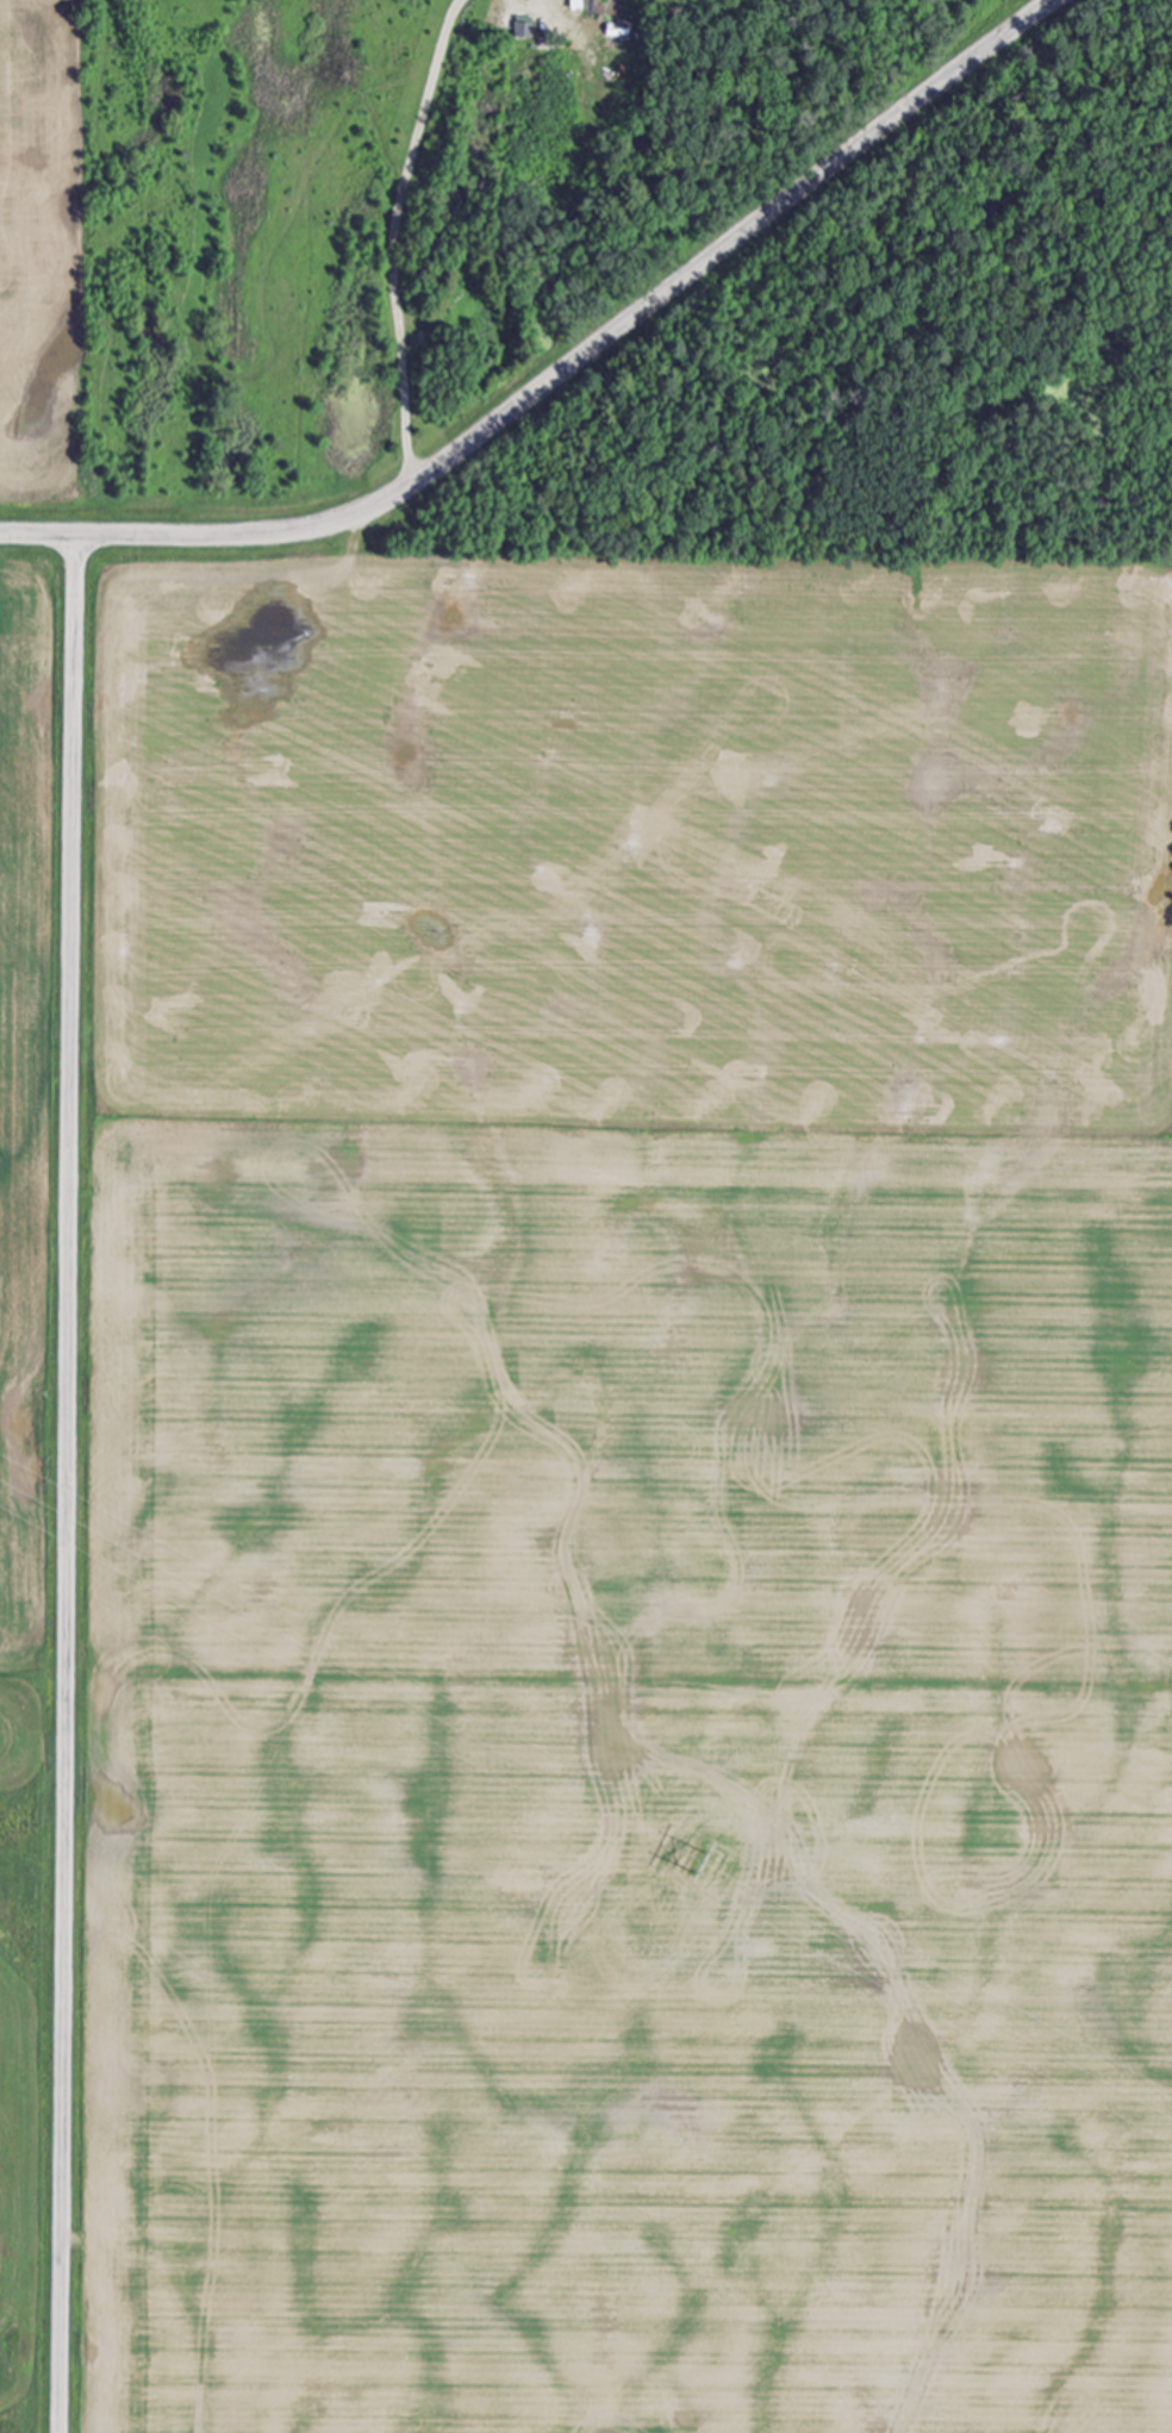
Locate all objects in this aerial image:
building: (523, 29)
road: (393, 233)
road: (562, 367)
road: (68, 1481)
power tower: (703, 1863)

